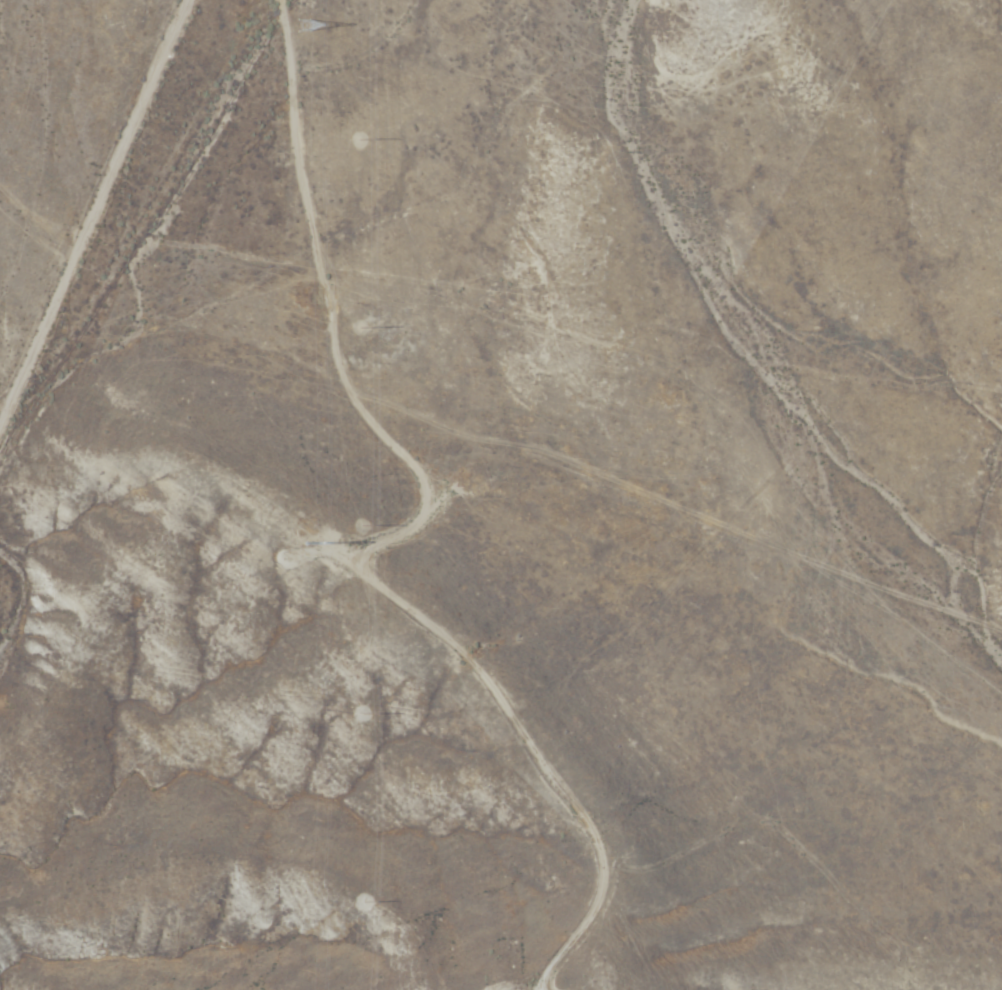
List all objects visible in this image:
road: (107, 268)

